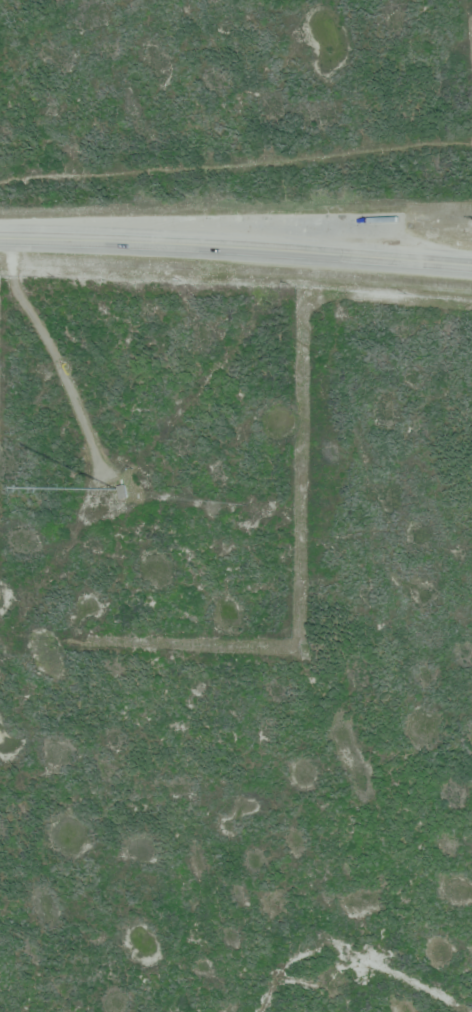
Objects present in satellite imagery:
road: (236, 244)

